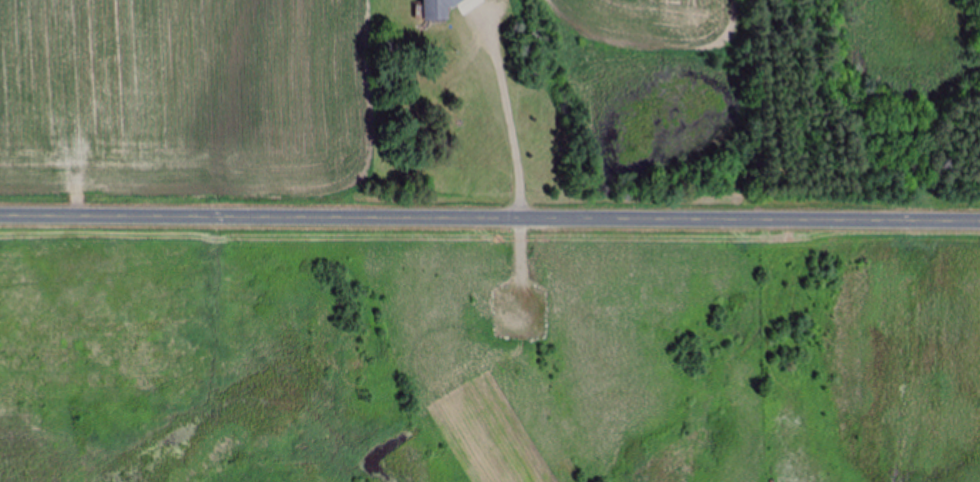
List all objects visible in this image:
building: (436, 9)
road: (490, 218)

